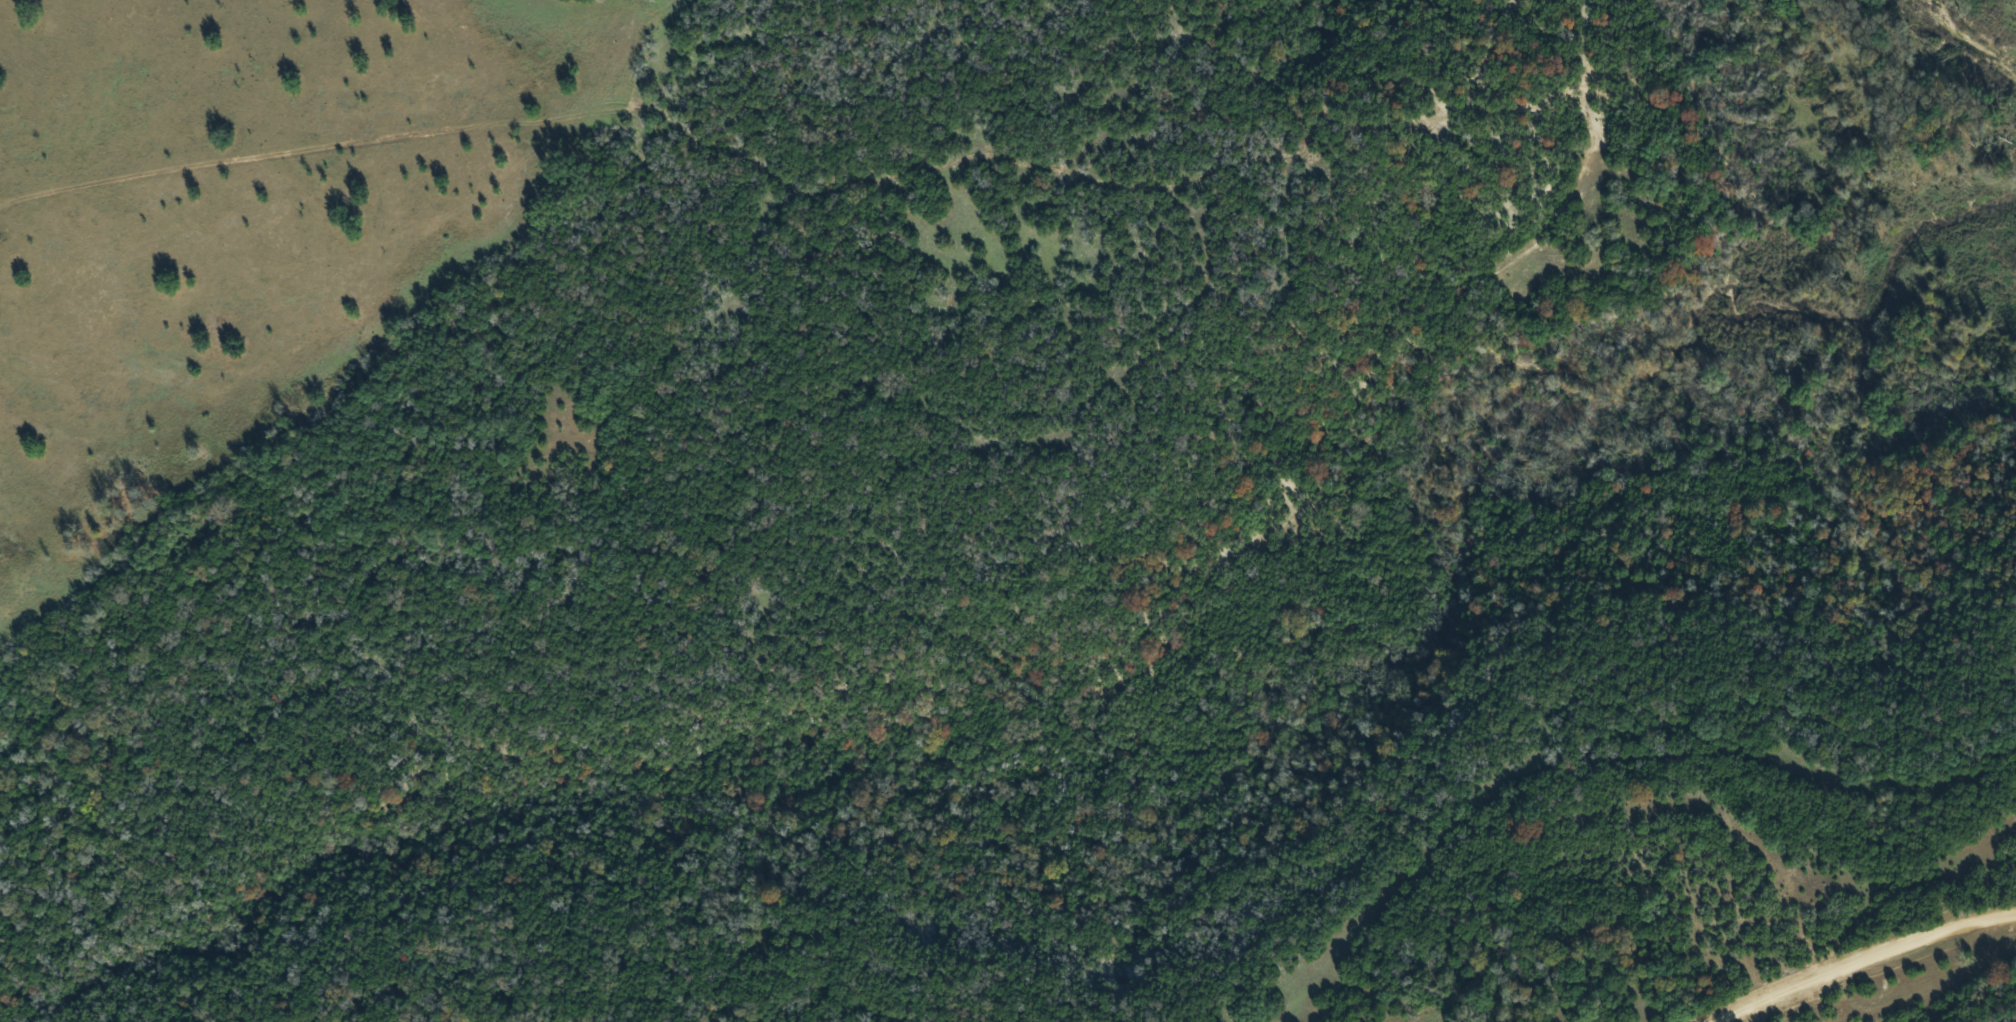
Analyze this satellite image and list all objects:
road: (1863, 963)

